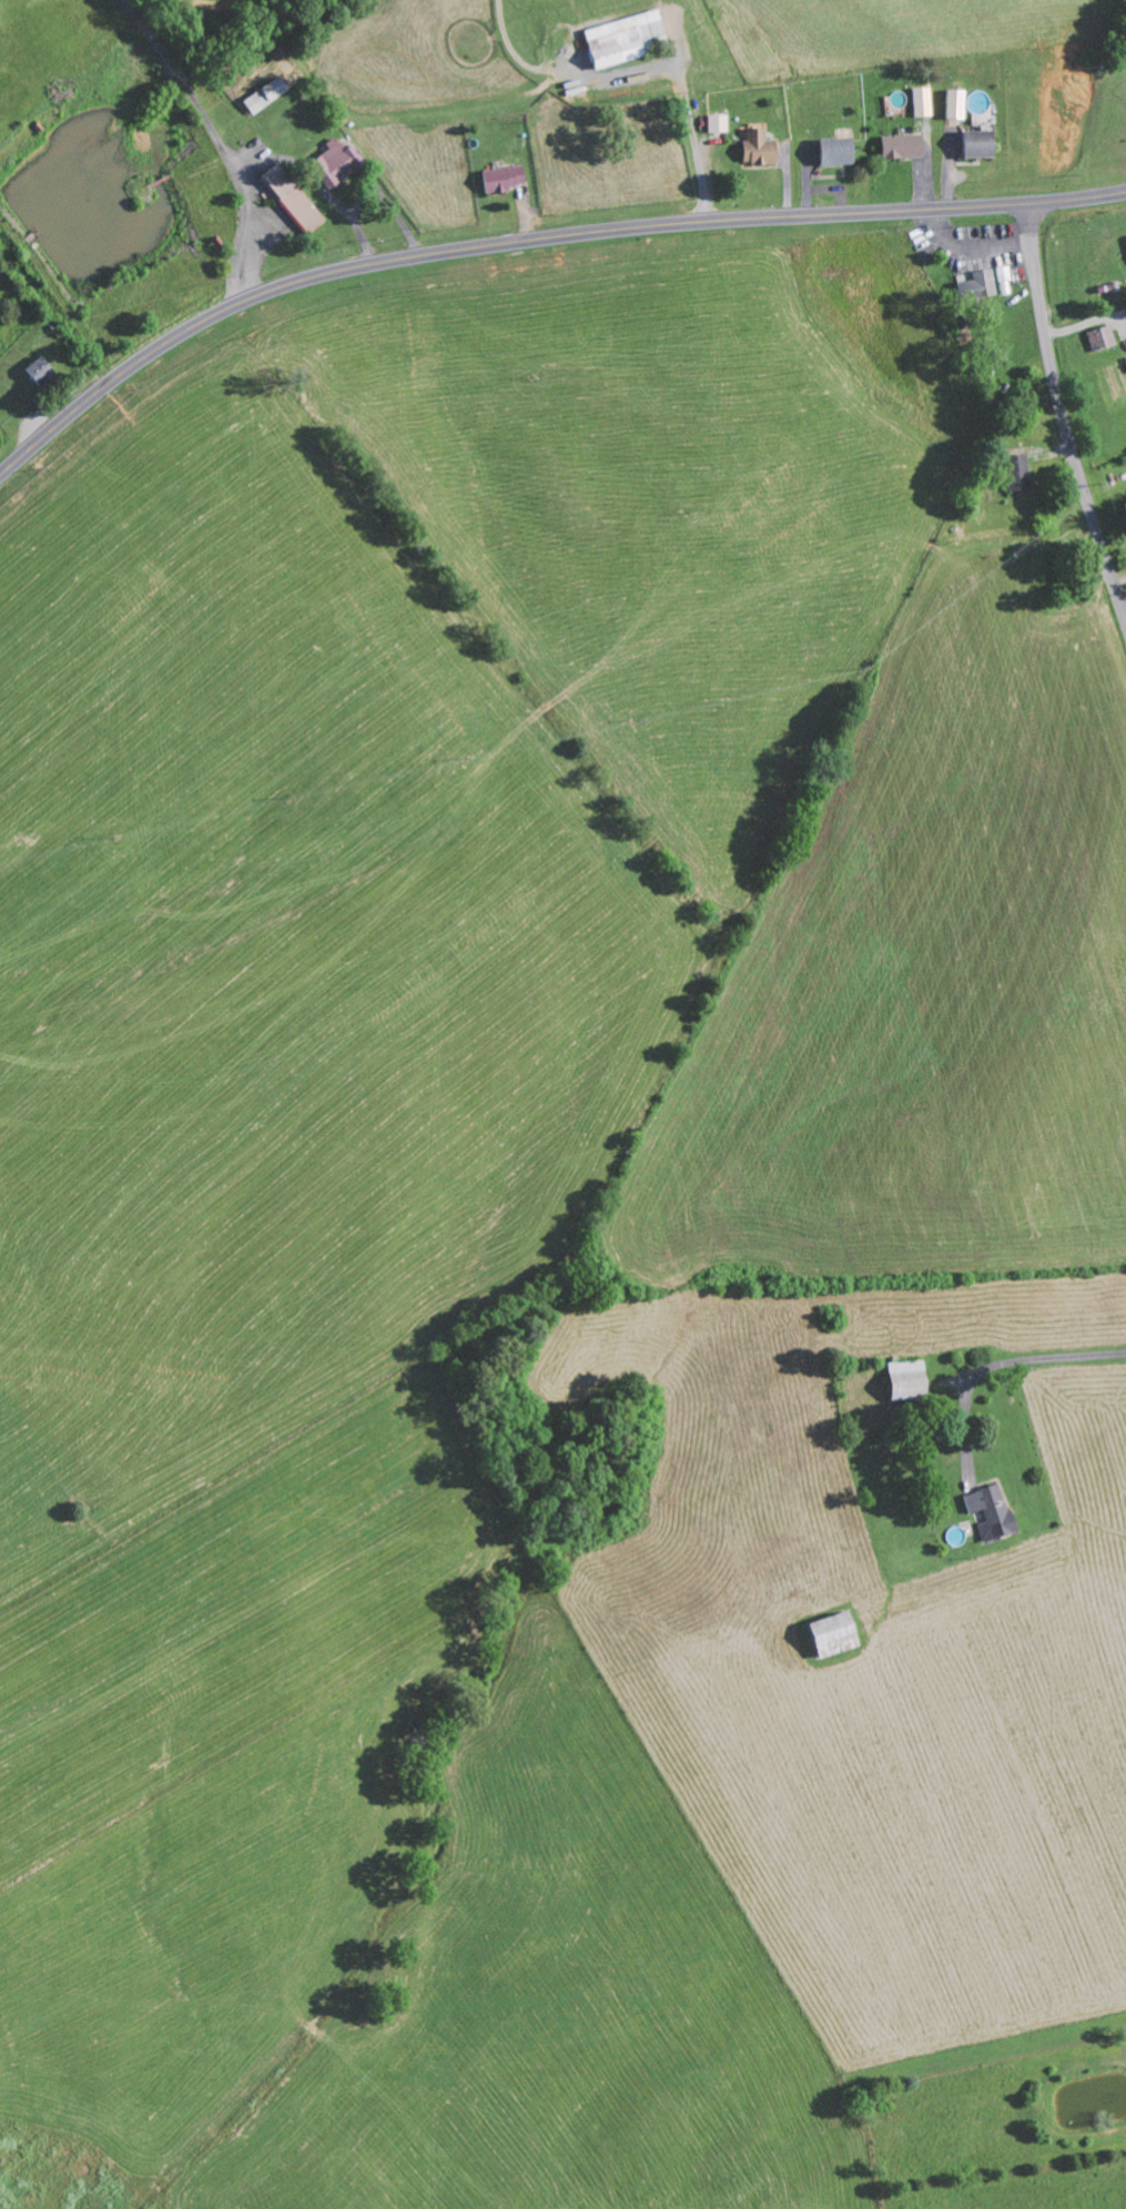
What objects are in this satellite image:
building: (627, 38)
building: (268, 94)
building: (925, 101)
building: (960, 103)
building: (721, 123)
building: (984, 143)
building: (906, 145)
building: (762, 148)
building: (841, 150)
building: (339, 162)
building: (508, 178)
building: (296, 199)
road: (531, 241)
building: (980, 285)
building: (1105, 338)
building: (44, 371)
road: (1062, 417)
building: (1023, 473)
building: (995, 1511)
building: (839, 1633)

